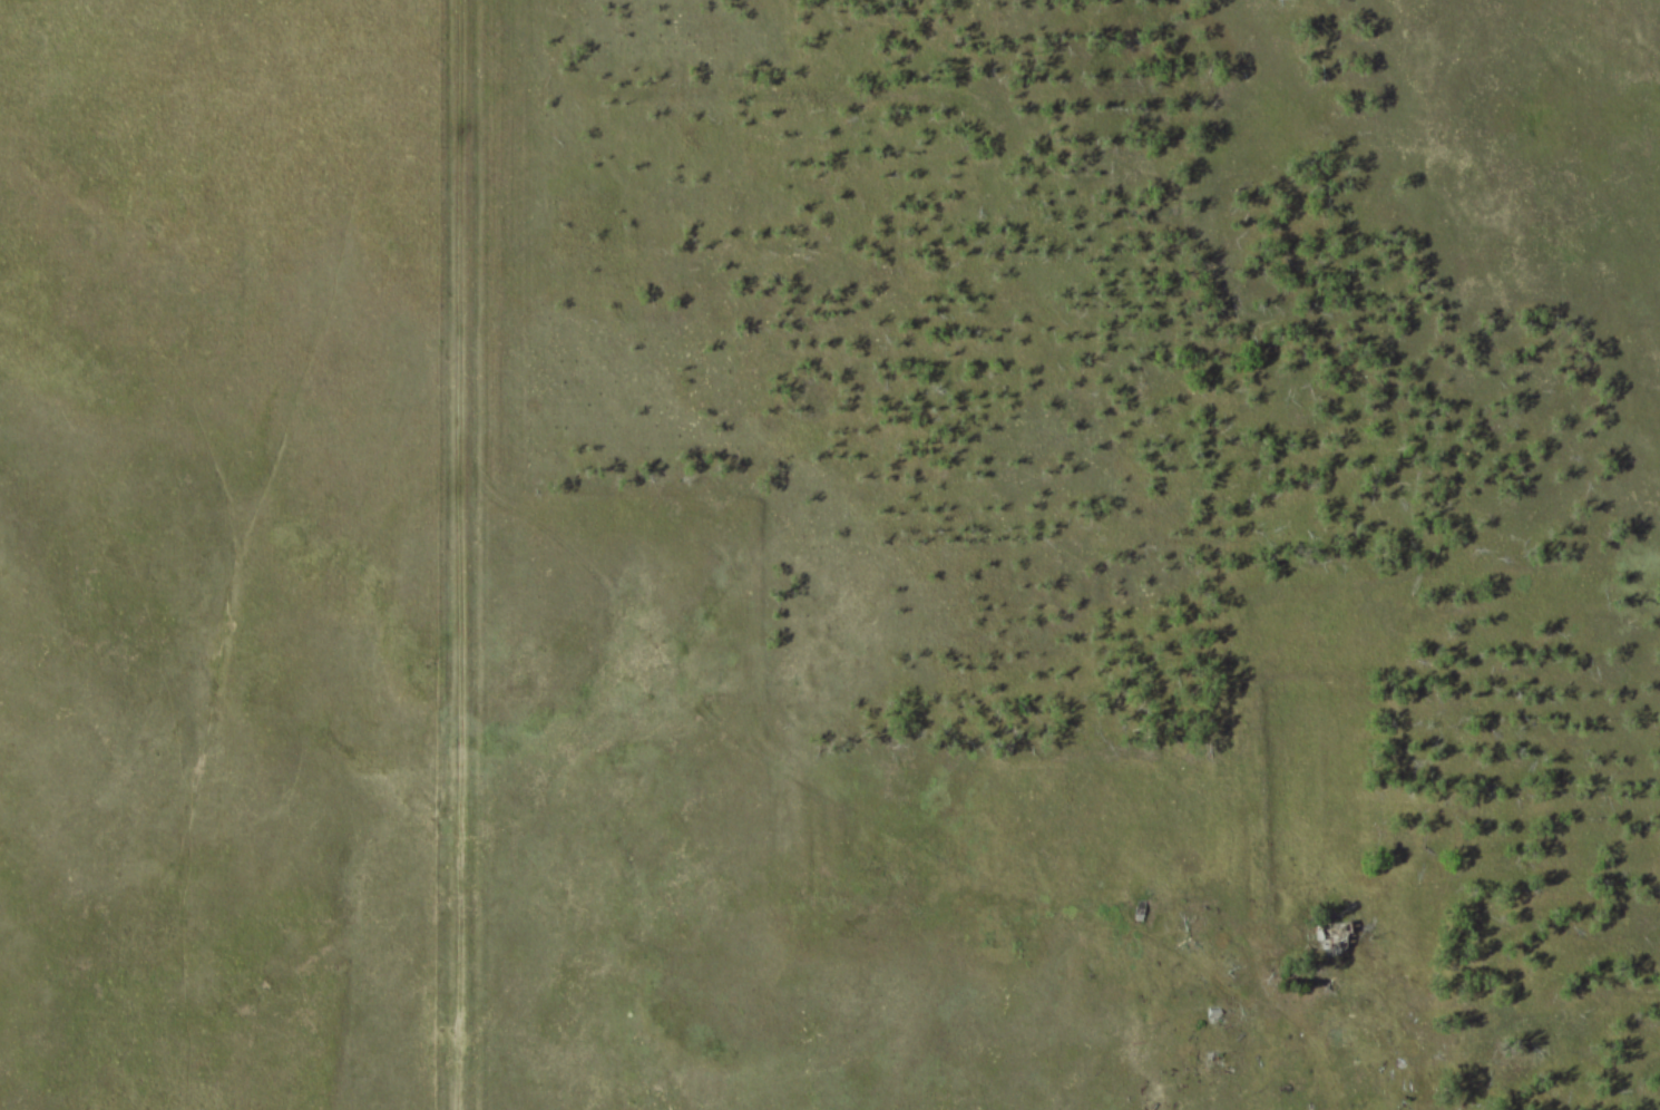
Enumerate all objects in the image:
road: (488, 555)

